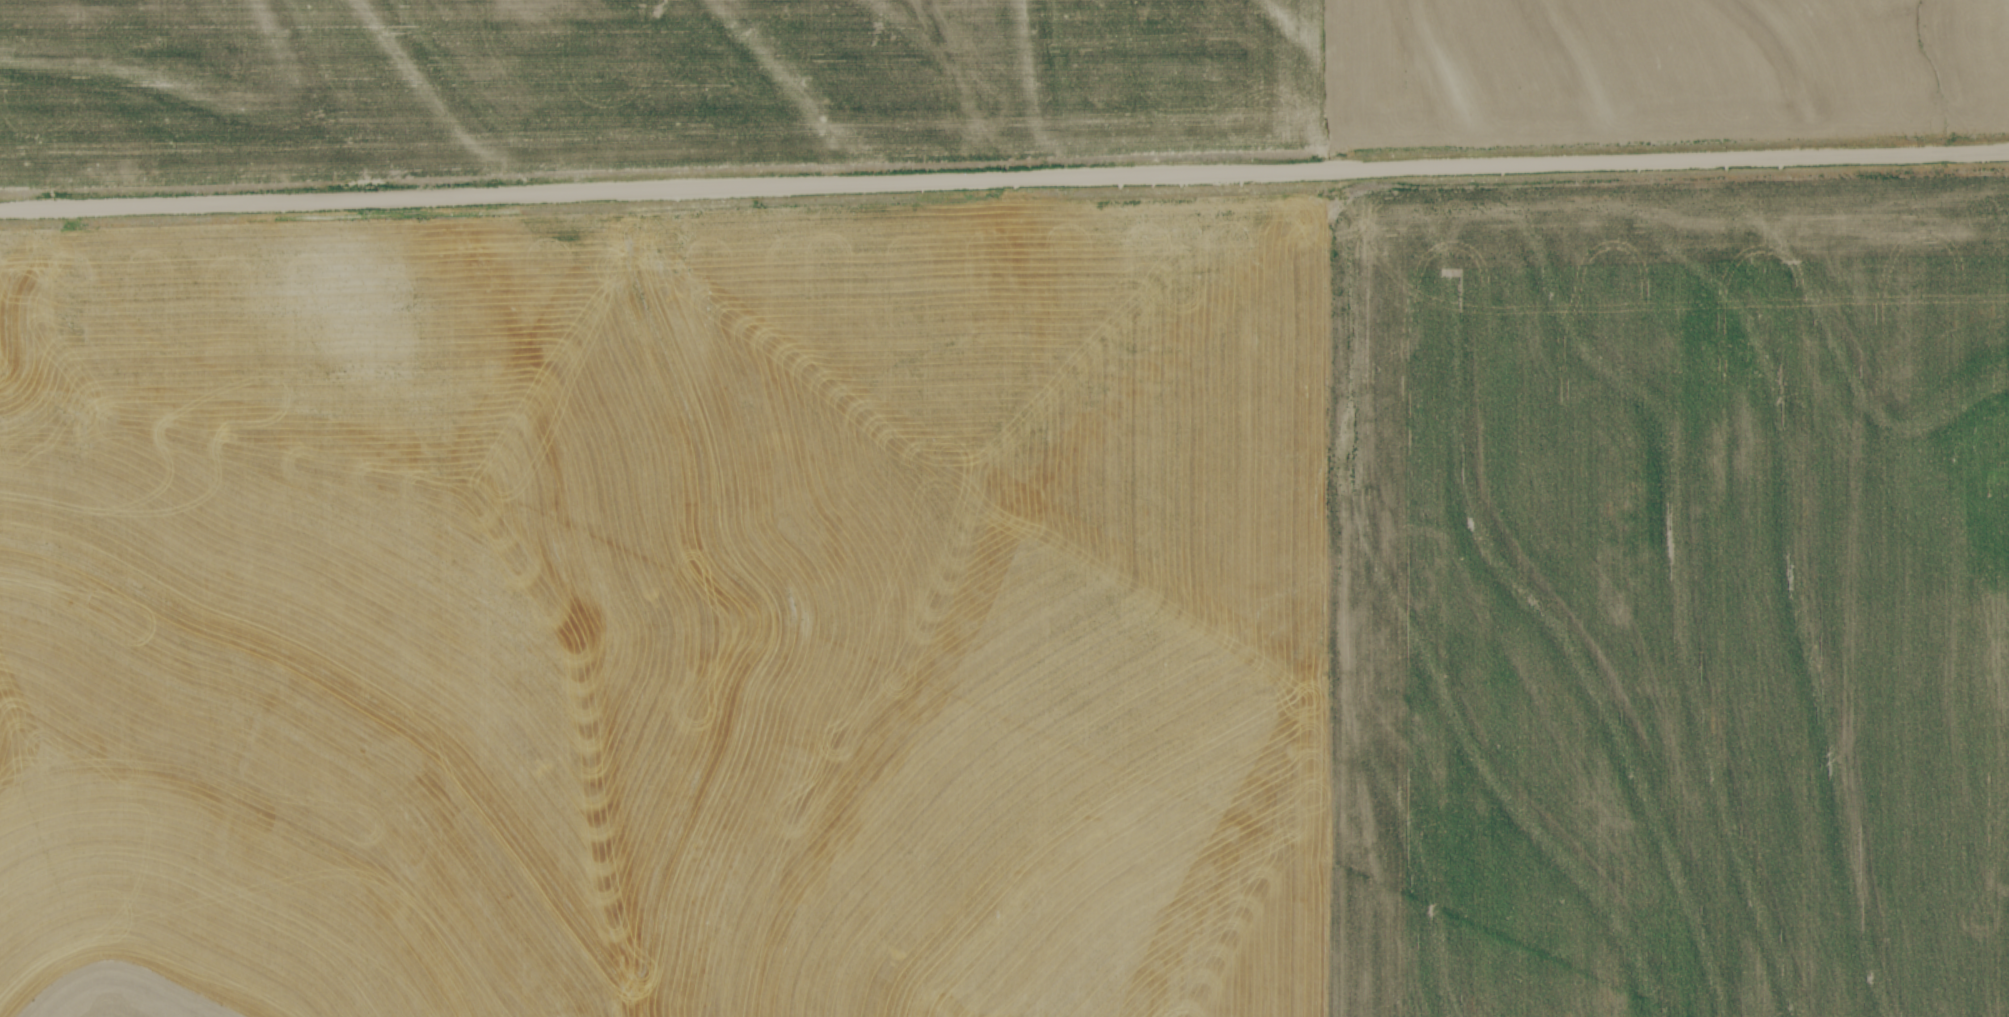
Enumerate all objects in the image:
road: (1004, 180)

